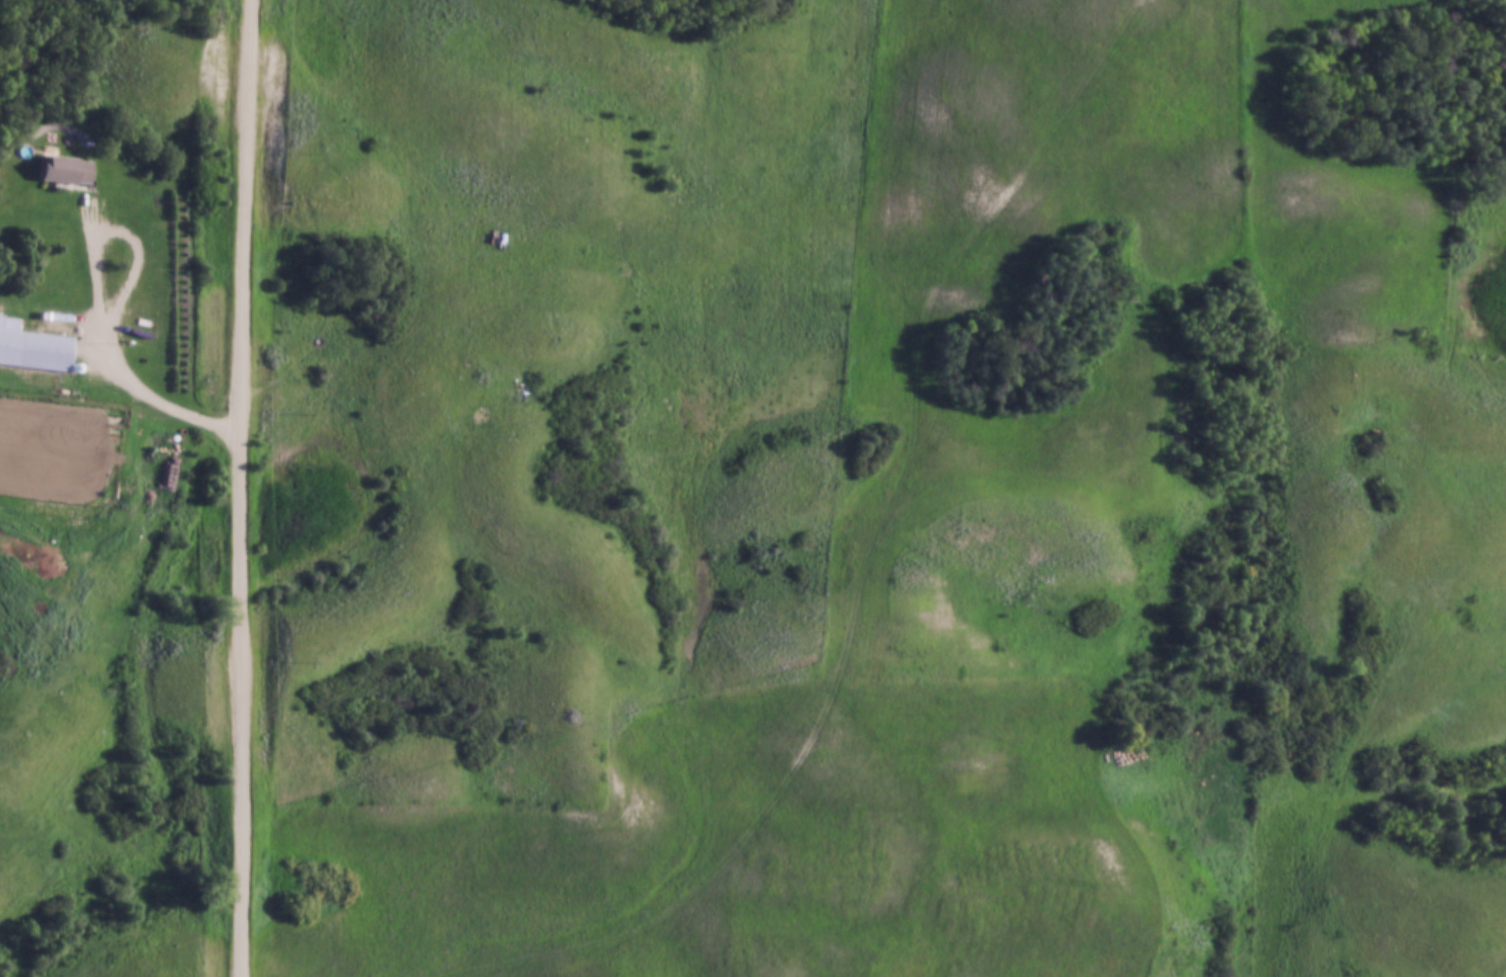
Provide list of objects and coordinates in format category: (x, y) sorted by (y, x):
building: (70, 170)
road: (117, 339)
building: (33, 346)
road: (239, 488)

